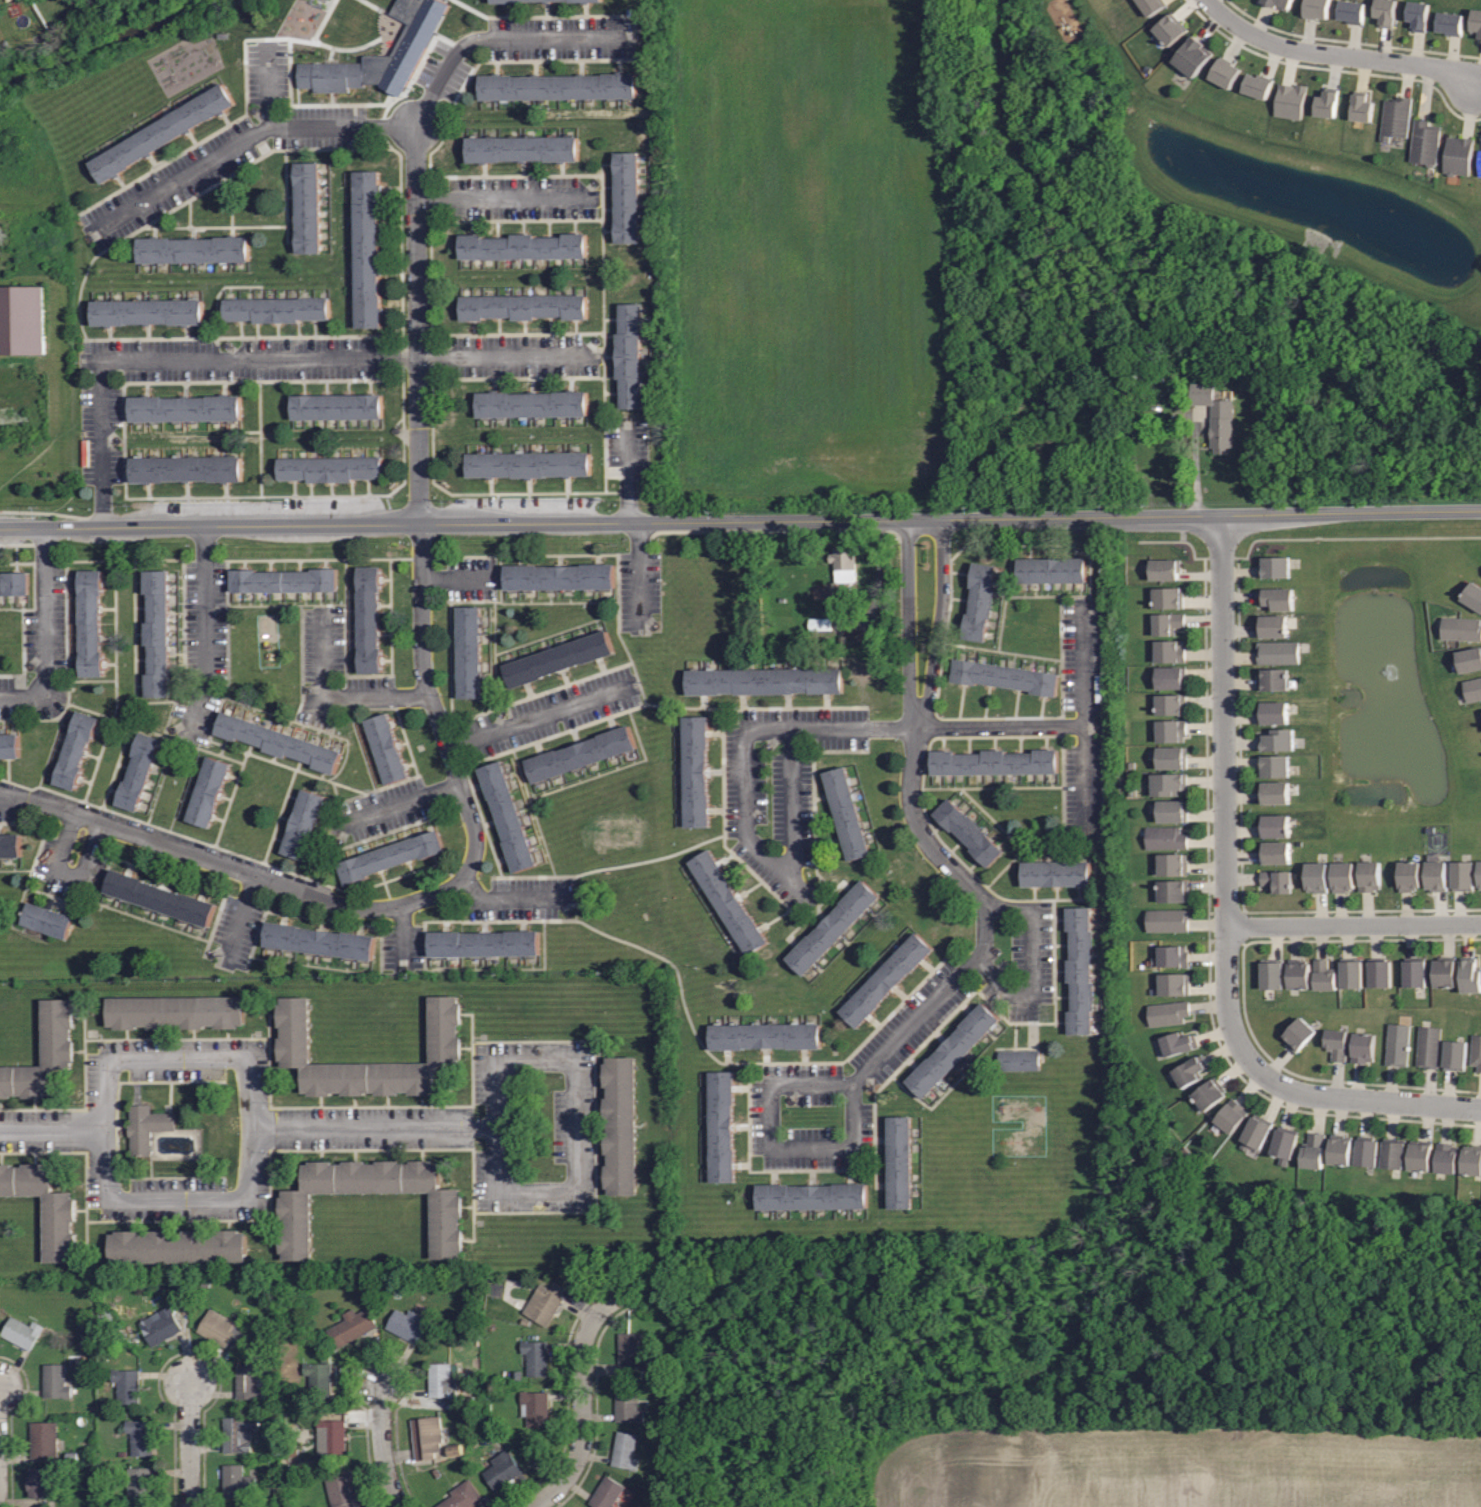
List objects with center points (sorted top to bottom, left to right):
building: (505, 1)
building: (584, 1)
building: (1276, 3)
building: (1152, 6)
building: (1316, 9)
building: (1385, 11)
building: (1351, 12)
building: (1417, 13)
building: (1449, 21)
building: (1475, 21)
building: (1170, 28)
road: (485, 38)
building: (381, 54)
road: (1335, 54)
building: (1194, 56)
building: (1224, 73)
building: (1258, 84)
building: (556, 86)
road: (269, 94)
building: (1289, 98)
building: (1326, 102)
building: (1361, 106)
building: (1395, 118)
building: (162, 132)
road: (245, 138)
building: (1424, 142)
building: (521, 148)
building: (1458, 155)
building: (1480, 162)
building: (626, 197)
road: (505, 198)
building: (308, 207)
building: (521, 246)
crop: (811, 247)
building: (366, 248)
building: (192, 249)
building: (523, 306)
building: (276, 309)
building: (147, 311)
building: (22, 319)
road: (416, 339)
building: (629, 355)
road: (268, 357)
building: (530, 404)
building: (336, 406)
building: (184, 408)
building: (1216, 417)
building: (528, 464)
building: (185, 468)
building: (329, 468)
road: (740, 518)
road: (635, 523)
road: (1352, 539)
road: (1178, 542)
road: (1221, 559)
building: (843, 563)
building: (1276, 566)
building: (1165, 568)
building: (1050, 569)
building: (558, 576)
road: (458, 578)
building: (282, 580)
building: (14, 583)
building: (825, 594)
building: (1473, 595)
building: (1168, 597)
building: (1277, 597)
building: (978, 601)
road: (421, 610)
building: (368, 618)
building: (91, 623)
building: (1168, 623)
building: (1273, 625)
building: (1462, 628)
building: (157, 632)
road: (45, 634)
road: (206, 635)
building: (1169, 650)
building: (467, 651)
building: (1279, 652)
building: (559, 658)
building: (1469, 659)
road: (1083, 662)
building: (1003, 676)
building: (1170, 676)
building: (1273, 678)
road: (322, 681)
building: (762, 681)
building: (1473, 689)
road: (408, 696)
building: (1171, 704)
building: (1273, 711)
road: (542, 715)
road: (1000, 726)
road: (853, 728)
building: (1171, 730)
building: (1279, 738)
building: (278, 741)
building: (9, 746)
building: (385, 747)
building: (75, 750)
building: (581, 752)
building: (1171, 756)
building: (994, 761)
building: (1275, 765)
building: (697, 770)
road: (1207, 770)
building: (138, 771)
road: (456, 775)
road: (1224, 779)
building: (1168, 783)
road: (1085, 785)
building: (207, 791)
building: (1275, 792)
road: (394, 806)
building: (1172, 811)
building: (845, 812)
building: (506, 815)
building: (302, 824)
building: (1275, 825)
building: (968, 830)
road: (923, 837)
building: (1166, 837)
building: (9, 845)
building: (1276, 852)
road: (1242, 853)
building: (390, 855)
road: (791, 862)
building: (1172, 863)
building: (1480, 869)
road: (243, 870)
building: (1054, 873)
road: (68, 874)
building: (1410, 874)
building: (1437, 874)
building: (1370, 875)
building: (1463, 875)
building: (1317, 876)
building: (1343, 876)
building: (1277, 880)
building: (1172, 890)
building: (158, 897)
road: (515, 897)
building: (726, 901)
building: (1168, 919)
building: (44, 920)
road: (239, 920)
road: (1353, 924)
building: (833, 927)
road: (402, 937)
building: (317, 940)
building: (482, 943)
building: (1174, 955)
road: (1029, 969)
building: (1080, 970)
building: (1351, 971)
building: (1380, 971)
building: (1415, 971)
building: (1445, 971)
building: (1272, 973)
building: (1299, 973)
building: (1324, 974)
building: (1471, 974)
building: (886, 979)
building: (1175, 984)
building: (174, 1012)
building: (1169, 1012)
building: (1298, 1033)
road: (1214, 1034)
building: (764, 1035)
building: (1337, 1042)
building: (1179, 1043)
building: (1398, 1044)
building: (1363, 1046)
building: (1429, 1046)
building: (444, 1048)
building: (952, 1049)
building: (1476, 1050)
building: (43, 1053)
building: (1455, 1054)
building: (1017, 1059)
building: (1191, 1070)
road: (1449, 1087)
building: (1210, 1093)
road: (1349, 1098)
road: (1304, 1112)
building: (1232, 1115)
road: (579, 1124)
building: (619, 1125)
building: (722, 1125)
building: (145, 1126)
road: (373, 1127)
road: (100, 1129)
road: (50, 1130)
building: (1258, 1130)
building: (1286, 1143)
road: (849, 1145)
building: (1342, 1150)
building: (1315, 1151)
building: (1369, 1151)
building: (1395, 1154)
building: (1422, 1156)
building: (1447, 1158)
building: (900, 1161)
building: (1471, 1161)
building: (810, 1196)
building: (44, 1207)
building: (446, 1207)
building: (176, 1246)
building: (543, 1303)
building: (406, 1325)
building: (157, 1326)
building: (350, 1326)
building: (220, 1328)
building: (20, 1332)
building: (630, 1356)
building: (534, 1357)
road: (581, 1376)
building: (317, 1378)
building: (55, 1381)
building: (246, 1381)
building: (439, 1381)
building: (125, 1385)
building: (626, 1405)
building: (533, 1407)
building: (237, 1432)
building: (331, 1434)
building: (139, 1436)
building: (424, 1436)
building: (42, 1439)
road: (188, 1444)
road: (381, 1444)
building: (624, 1450)
crop: (1184, 1466)
building: (500, 1468)
building: (235, 1481)
building: (37, 1482)
building: (140, 1483)
building: (340, 1489)
building: (605, 1492)
building: (461, 1496)

